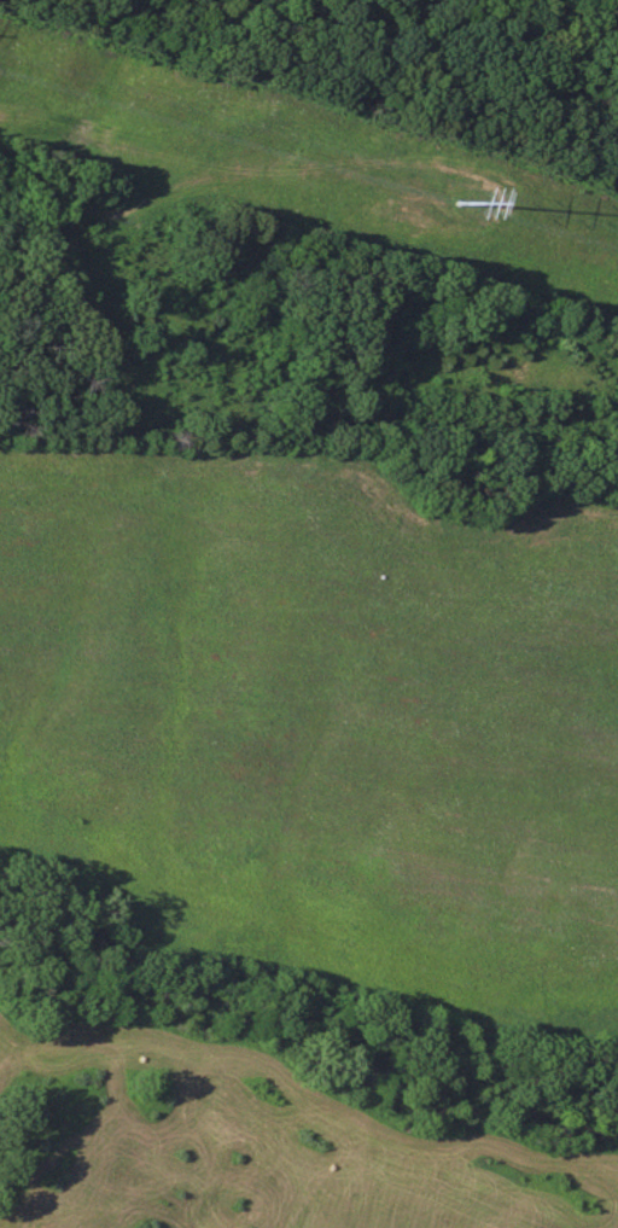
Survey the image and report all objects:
power tower: (285, 158)

